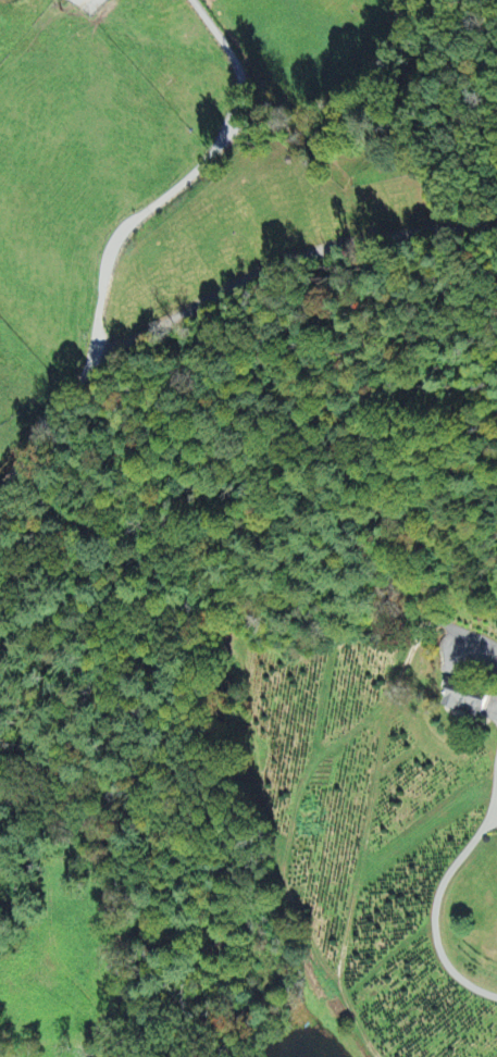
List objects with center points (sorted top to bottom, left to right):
road: (121, 232)
building: (464, 701)

